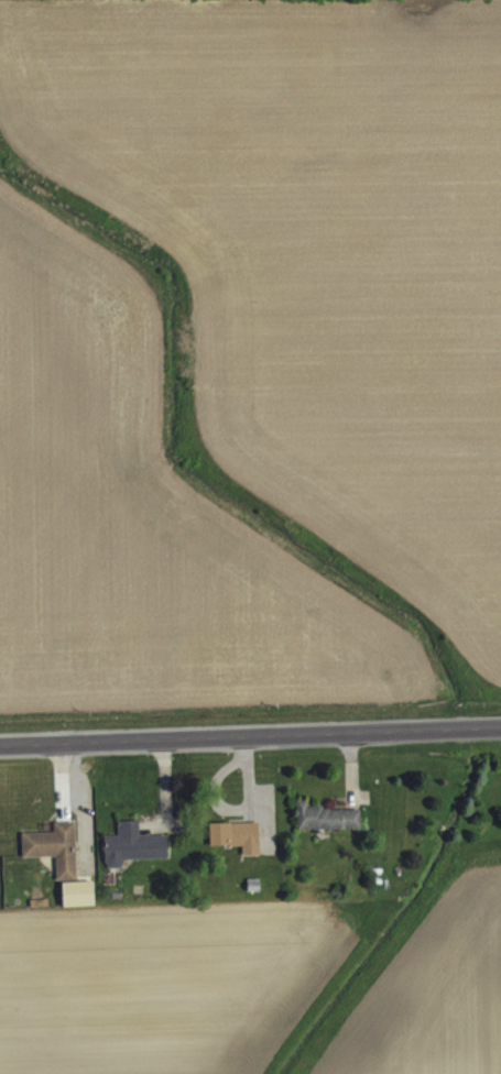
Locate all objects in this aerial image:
road: (250, 733)
building: (327, 830)
building: (237, 848)
building: (133, 857)
building: (55, 861)
building: (78, 907)

